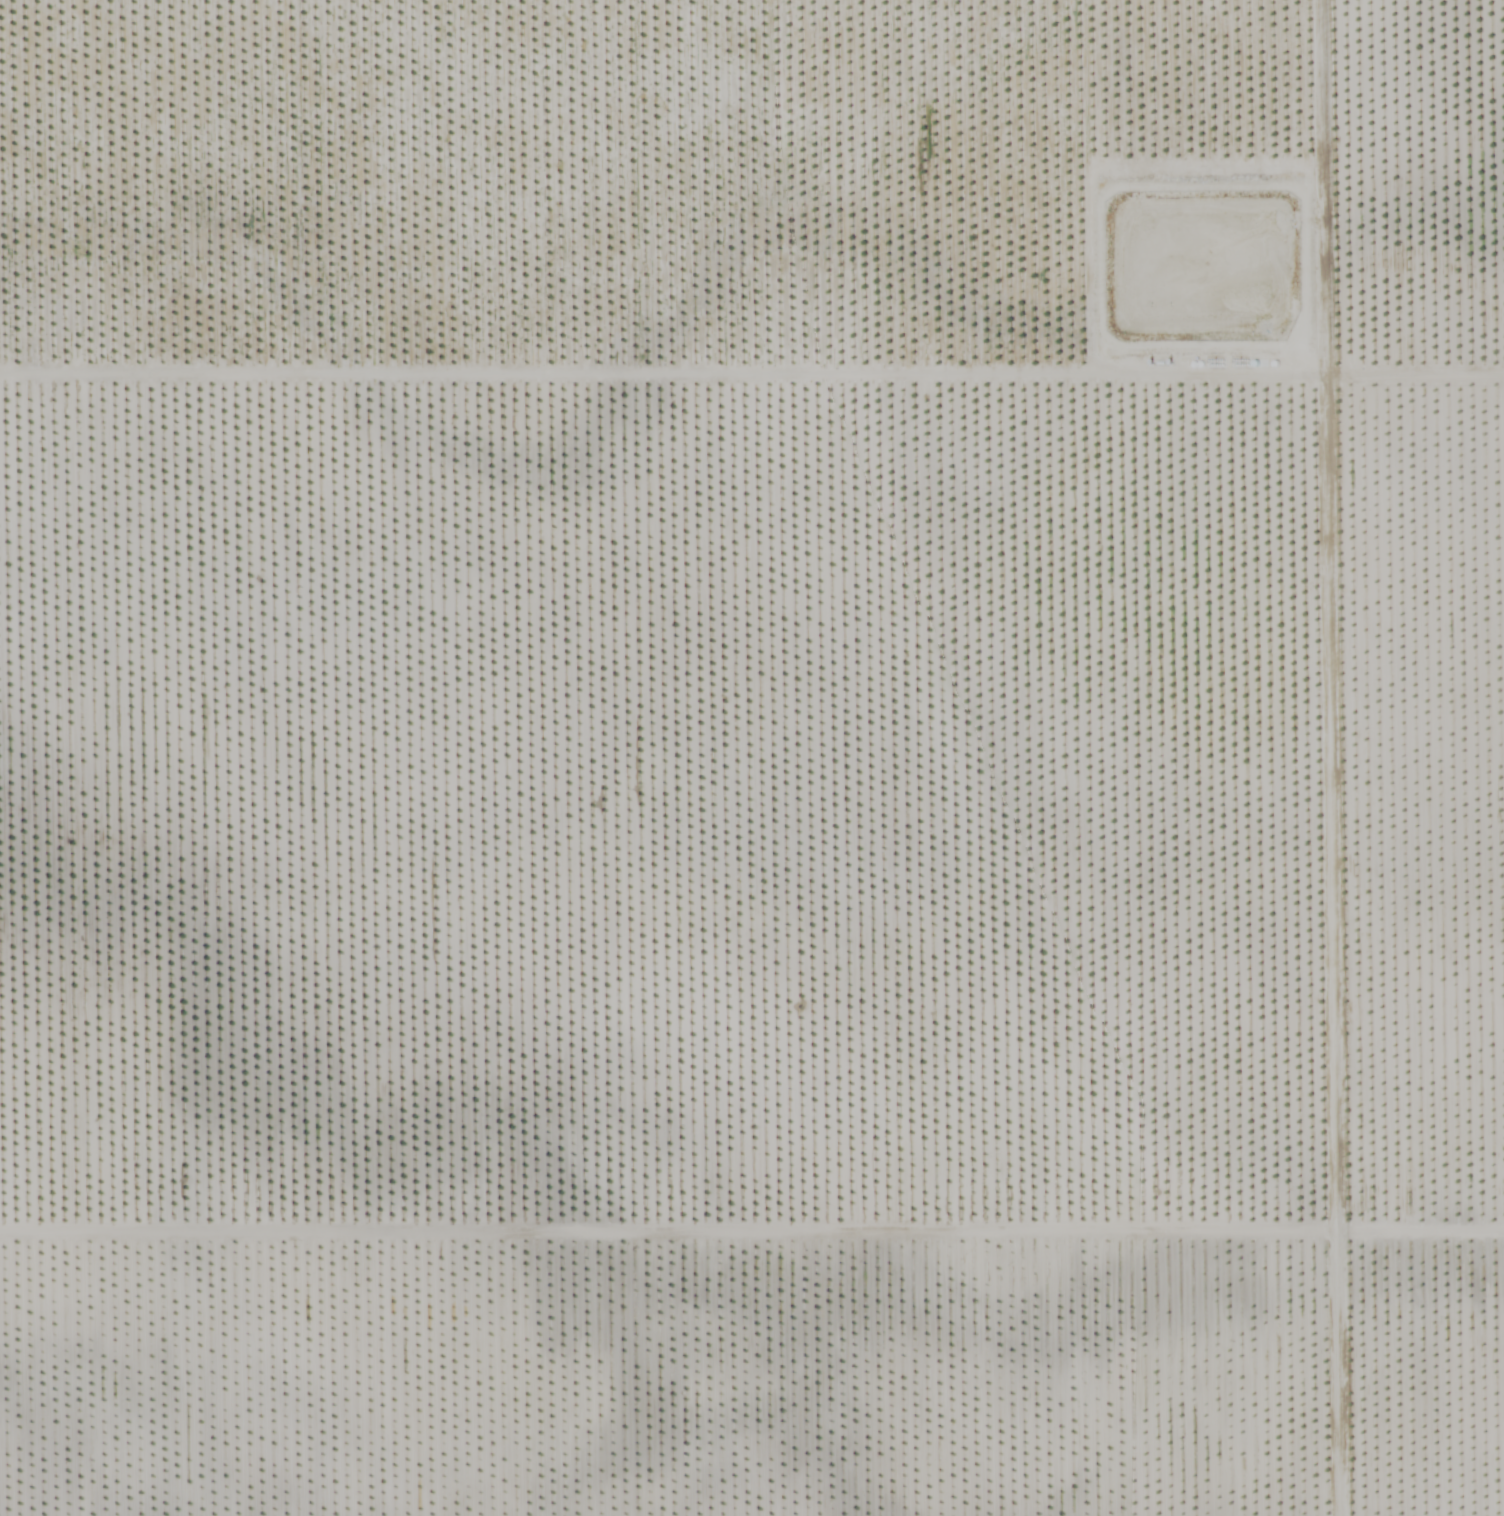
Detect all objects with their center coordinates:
crop: (1412, 443)

